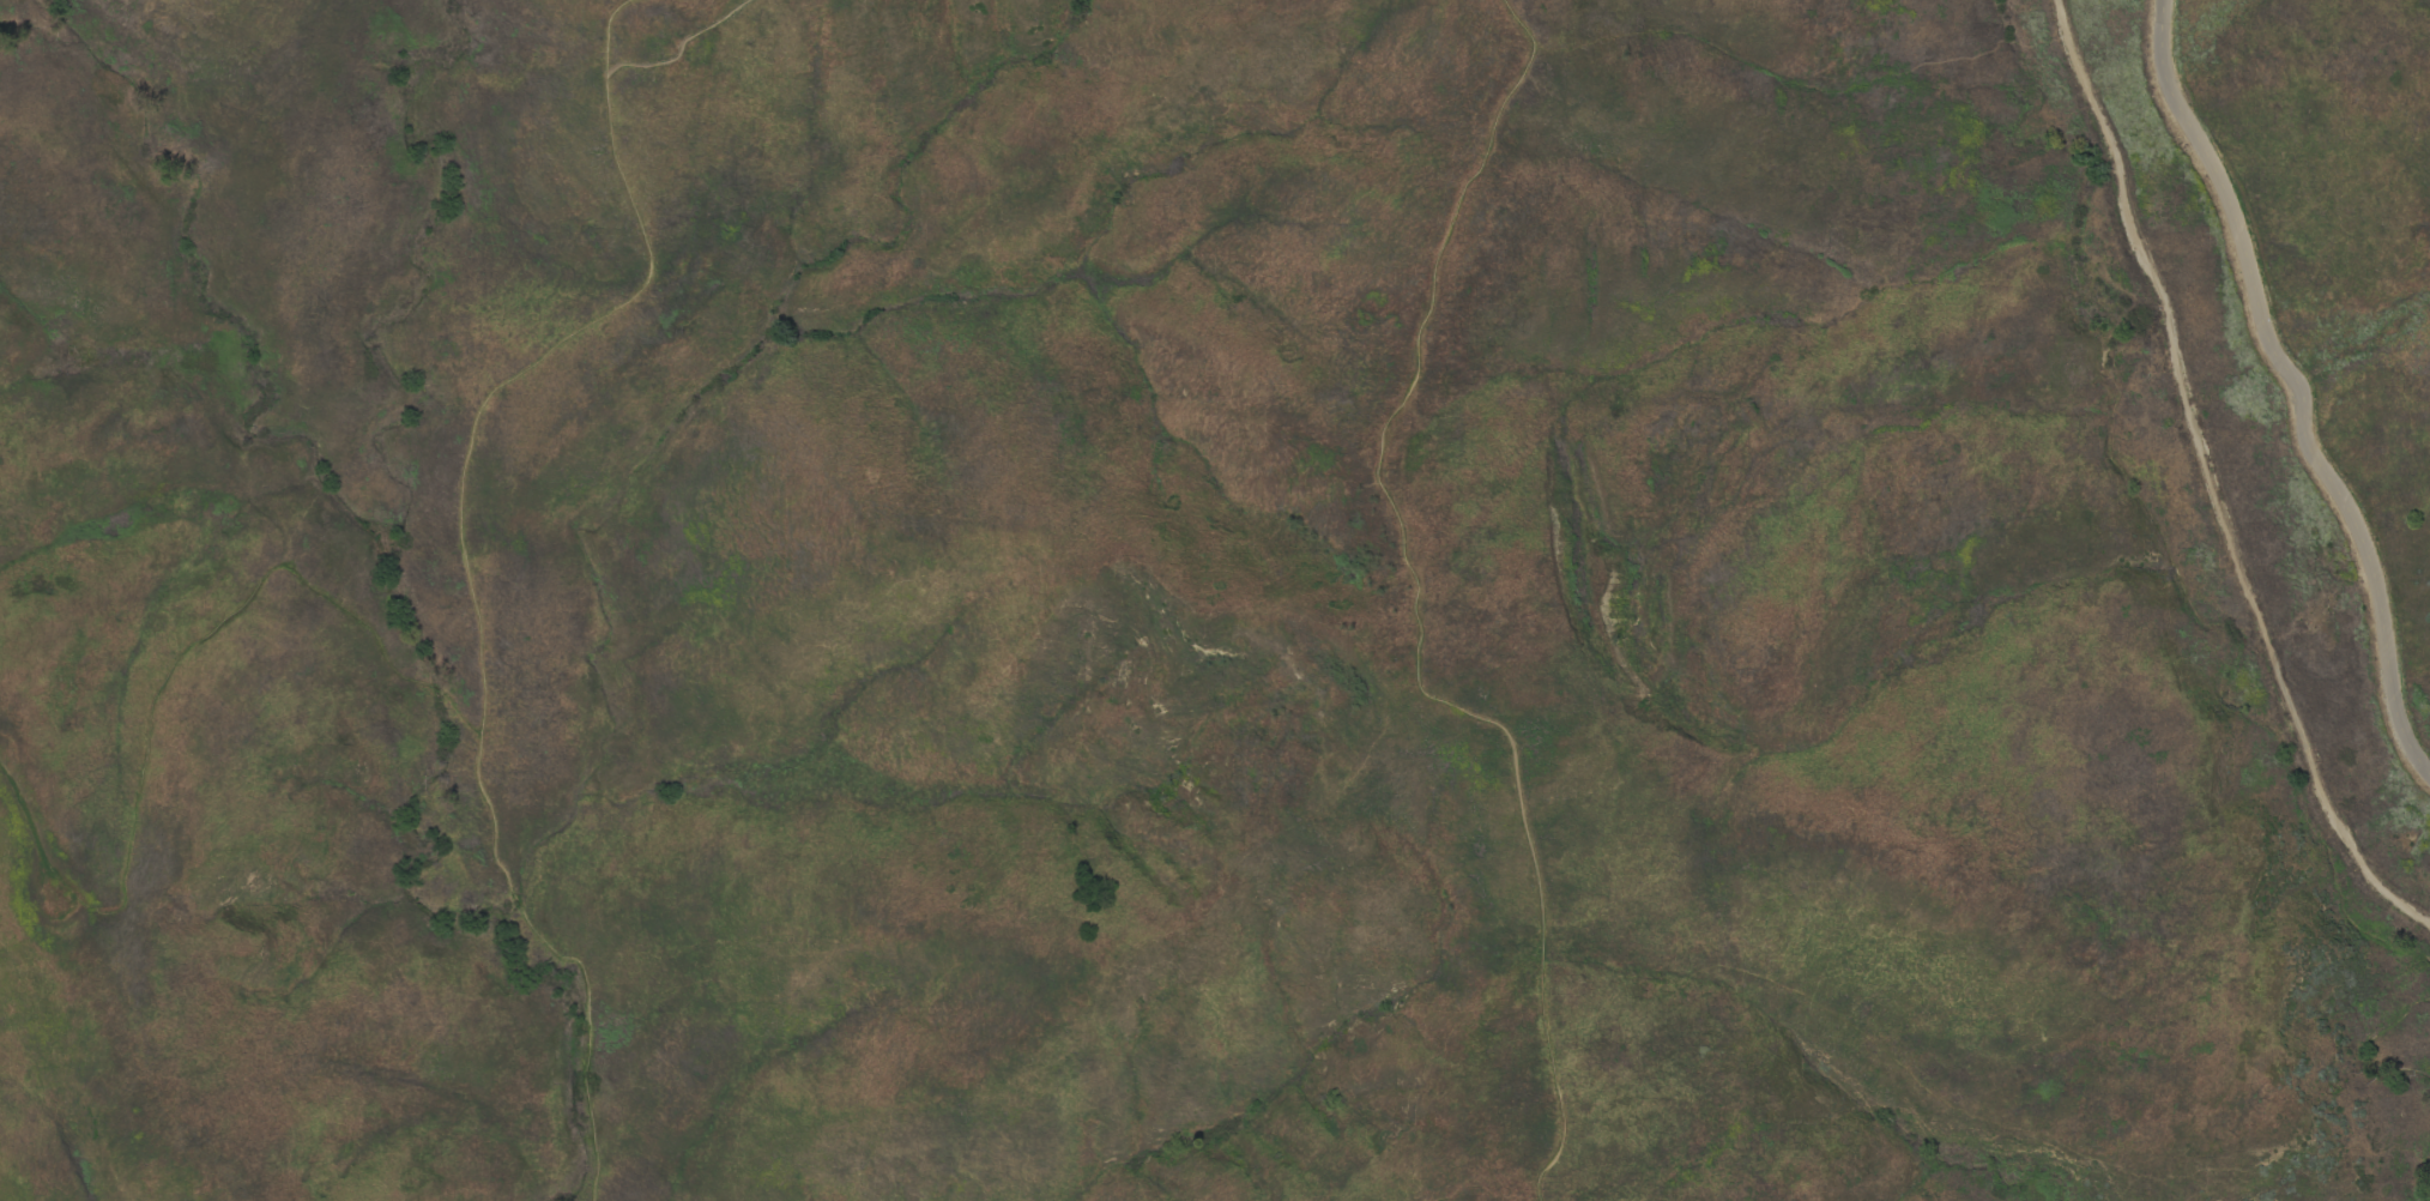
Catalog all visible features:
road: (682, 53)
road: (2296, 387)
road: (2211, 479)
road: (465, 569)
road: (1415, 611)
road: (195, 642)
road: (25, 832)
power tower: (67, 891)

